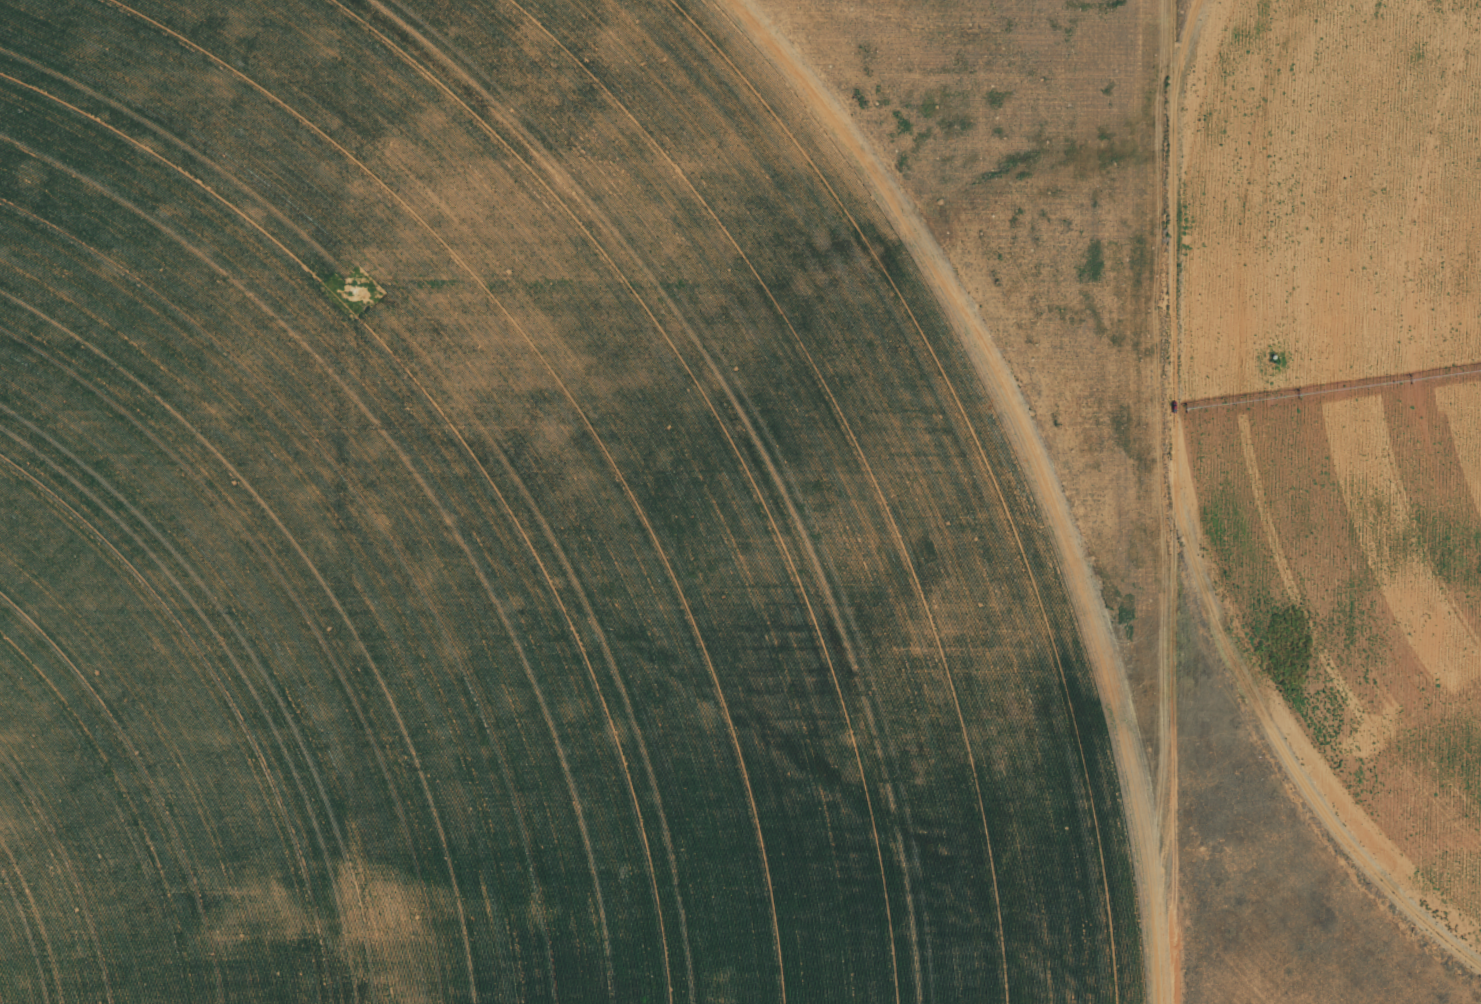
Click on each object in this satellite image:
road: (1188, 502)

